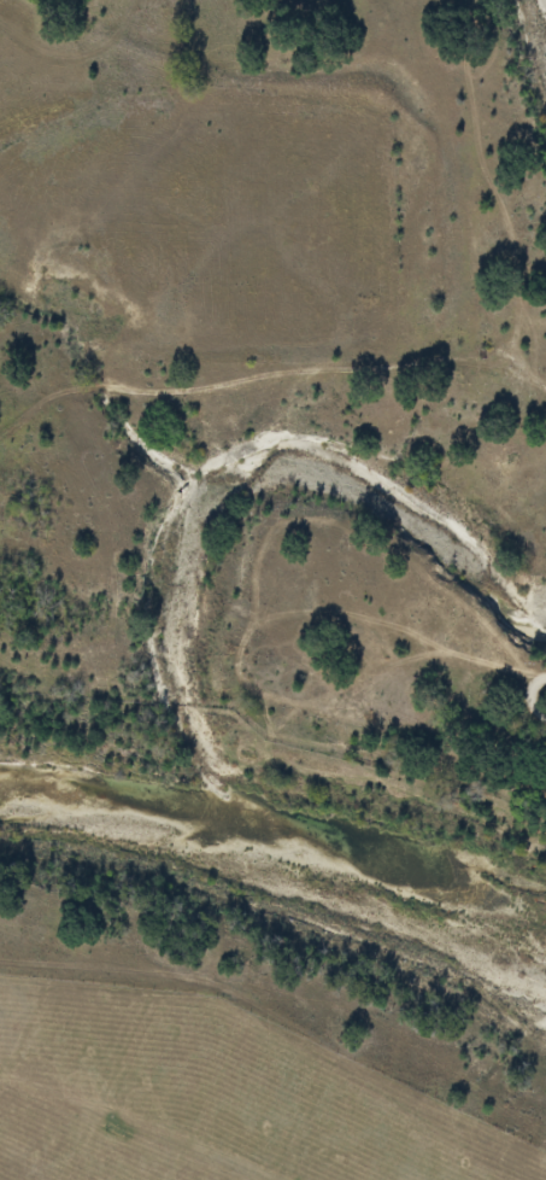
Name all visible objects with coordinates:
river: (274, 839)

